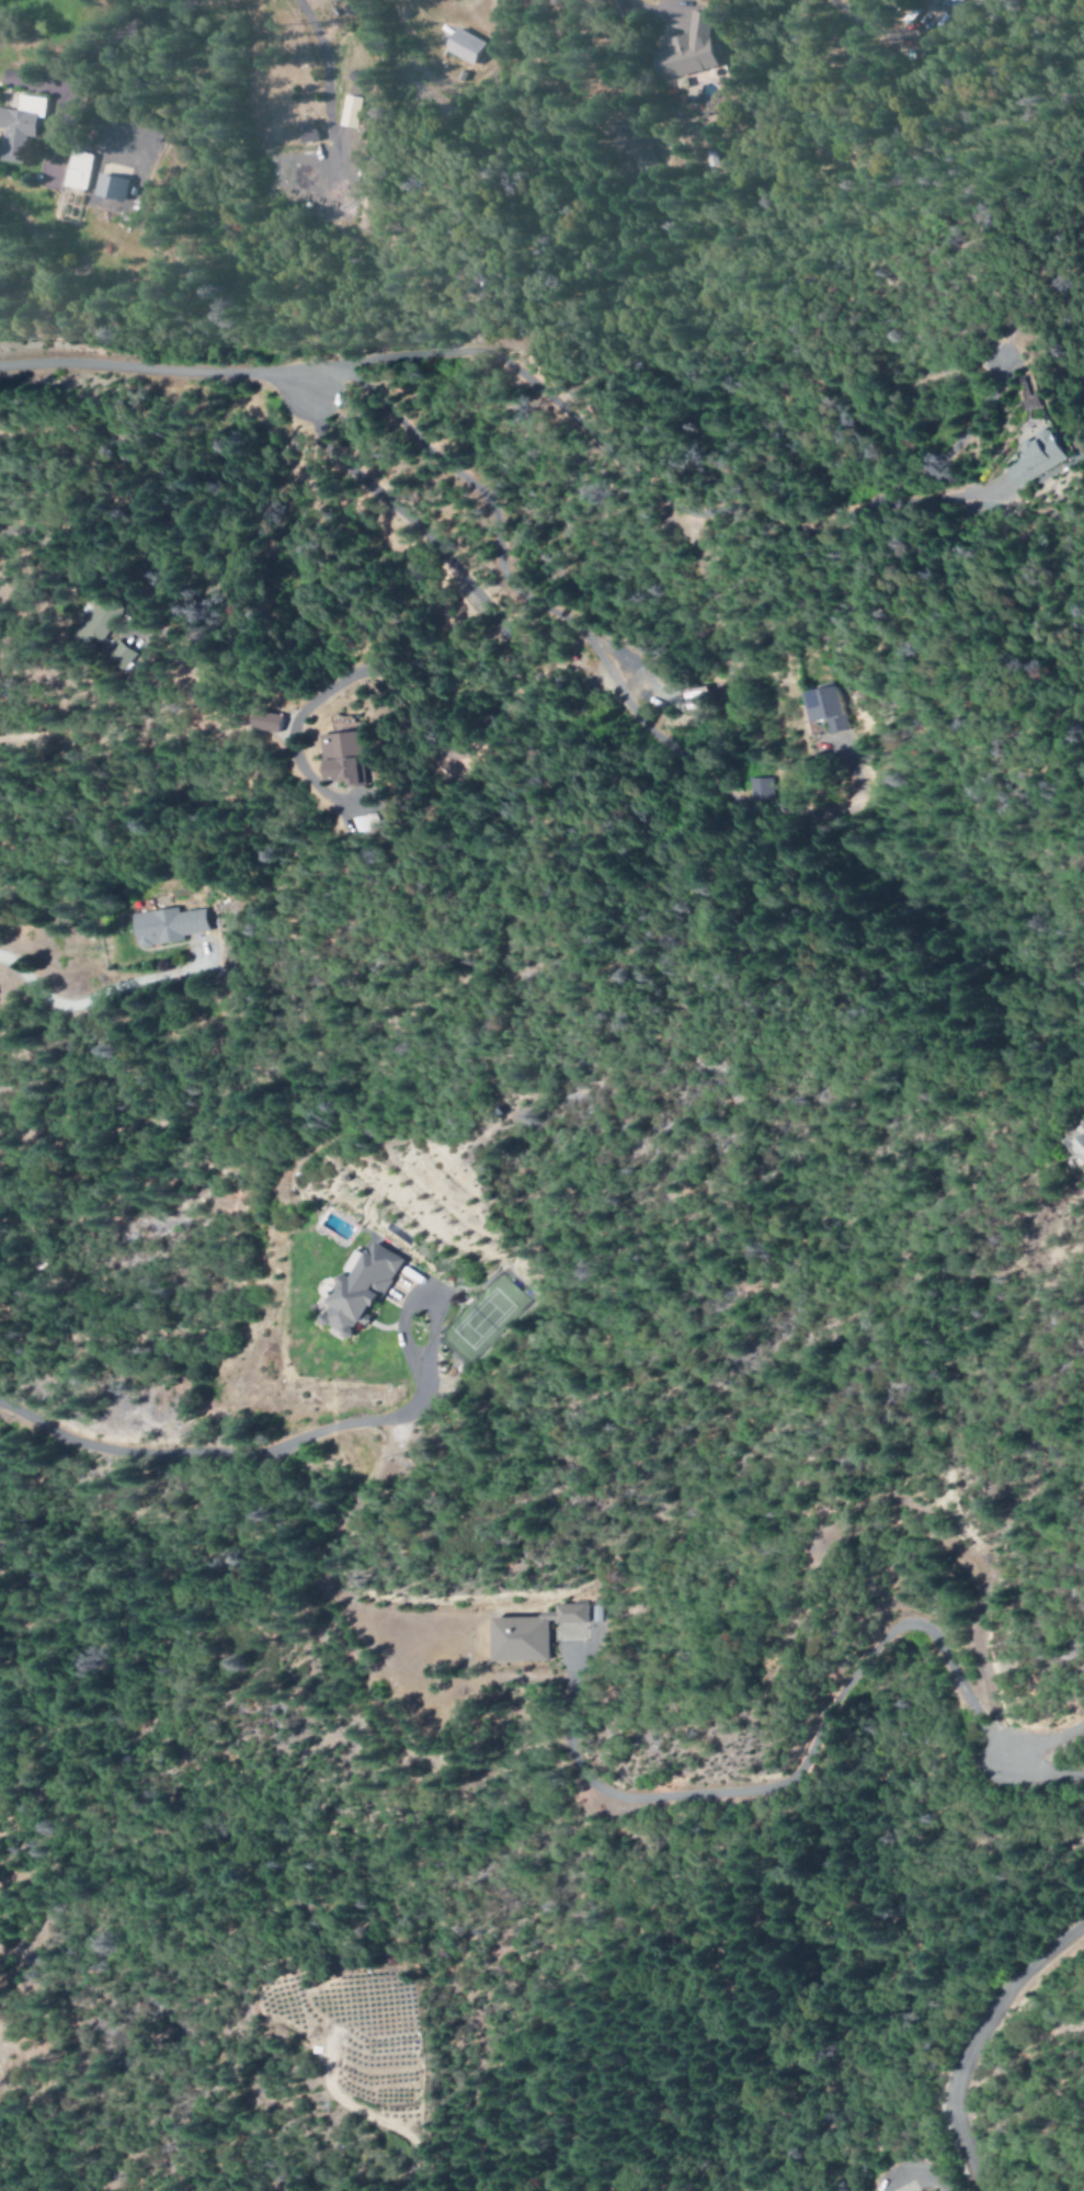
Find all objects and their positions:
building: (939, 9)
road: (866, 23)
building: (463, 46)
building: (686, 49)
building: (352, 112)
building: (19, 126)
building: (305, 130)
building: (77, 170)
building: (109, 188)
road: (157, 371)
building: (1035, 458)
building: (102, 620)
building: (125, 654)
building: (824, 709)
building: (270, 722)
building: (345, 759)
building: (365, 822)
building: (172, 927)
building: (1072, 1146)
building: (356, 1290)
building: (527, 1634)
road: (1038, 1774)
road: (973, 2034)

